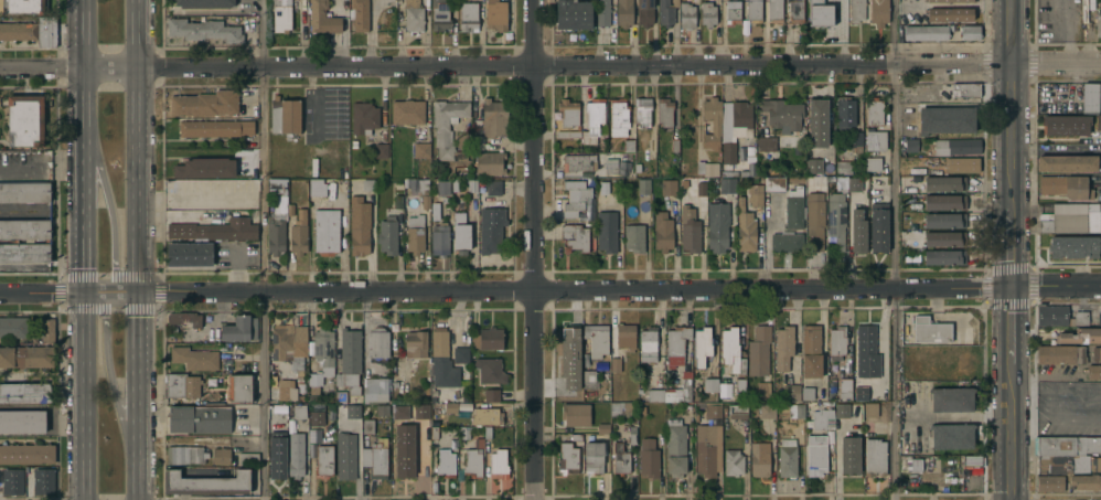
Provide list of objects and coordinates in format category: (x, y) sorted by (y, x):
building: (951, 0)
building: (204, 2)
building: (814, 2)
building: (23, 6)
building: (753, 10)
building: (774, 10)
building: (795, 10)
building: (856, 10)
building: (733, 11)
building: (878, 11)
building: (602, 12)
building: (624, 12)
building: (645, 12)
building: (665, 12)
building: (707, 12)
building: (950, 13)
building: (281, 14)
building: (360, 14)
building: (414, 14)
building: (440, 14)
building: (496, 14)
building: (573, 14)
building: (686, 14)
building: (469, 15)
building: (819, 15)
building: (322, 18)
building: (1098, 22)
building: (203, 29)
building: (31, 30)
building: (922, 31)
building: (970, 31)
road: (1056, 62)
road: (505, 65)
building: (965, 89)
building: (1089, 97)
building: (205, 103)
building: (24, 106)
building: (407, 110)
building: (642, 110)
building: (664, 110)
building: (874, 110)
building: (568, 111)
building: (782, 111)
building: (845, 113)
building: (285, 115)
building: (495, 116)
building: (618, 116)
building: (364, 117)
building: (945, 118)
building: (592, 121)
building: (713, 121)
building: (816, 123)
building: (1097, 123)
building: (448, 126)
building: (734, 126)
building: (215, 127)
building: (1062, 128)
building: (25, 130)
building: (567, 132)
building: (876, 139)
building: (858, 141)
building: (767, 142)
building: (629, 143)
building: (675, 143)
building: (911, 145)
building: (955, 146)
building: (381, 149)
building: (421, 149)
building: (750, 149)
building: (490, 161)
building: (578, 161)
building: (1067, 161)
building: (873, 162)
building: (962, 163)
building: (614, 164)
building: (749, 166)
building: (843, 166)
building: (205, 167)
building: (706, 167)
building: (813, 167)
building: (755, 179)
building: (406, 181)
building: (684, 182)
building: (840, 182)
building: (944, 182)
building: (368, 183)
building: (471, 183)
building: (774, 183)
building: (727, 184)
road: (105, 185)
building: (442, 185)
building: (643, 185)
building: (854, 185)
building: (1066, 185)
building: (493, 187)
building: (669, 187)
building: (276, 188)
building: (317, 188)
building: (455, 188)
building: (702, 188)
building: (24, 190)
building: (425, 193)
building: (755, 193)
building: (574, 199)
building: (398, 201)
building: (944, 201)
building: (289, 208)
building: (794, 208)
building: (23, 211)
building: (459, 216)
building: (815, 219)
building: (836, 219)
building: (944, 219)
building: (1069, 219)
building: (359, 224)
building: (717, 225)
building: (607, 226)
building: (879, 226)
building: (24, 227)
building: (240, 227)
building: (746, 227)
building: (492, 228)
building: (690, 228)
building: (325, 230)
building: (663, 230)
building: (186, 231)
building: (856, 231)
building: (415, 232)
building: (298, 233)
building: (276, 234)
building: (387, 234)
building: (461, 236)
building: (575, 236)
building: (634, 236)
building: (440, 237)
building: (944, 237)
building: (1078, 238)
building: (787, 241)
building: (1055, 241)
building: (1091, 247)
road: (84, 249)
road: (141, 249)
road: (266, 249)
road: (534, 249)
road: (896, 249)
road: (1011, 249)
building: (24, 252)
building: (189, 253)
building: (1060, 255)
building: (944, 256)
road: (1055, 288)
road: (504, 289)
traffic signals: (84, 294)
traffic signals: (142, 294)
building: (1051, 313)
building: (1081, 317)
building: (1099, 317)
building: (186, 323)
building: (13, 326)
building: (239, 327)
building: (47, 329)
building: (931, 329)
building: (626, 334)
building: (1079, 334)
building: (488, 338)
building: (597, 338)
building: (837, 341)
building: (377, 343)
building: (416, 343)
building: (648, 343)
building: (677, 343)
building: (289, 344)
building: (702, 344)
building: (323, 345)
building: (783, 345)
building: (730, 347)
building: (759, 350)
building: (811, 350)
building: (569, 351)
building: (866, 352)
building: (1095, 352)
building: (461, 353)
building: (1060, 353)
building: (25, 355)
building: (194, 357)
building: (350, 359)
building: (442, 359)
building: (614, 363)
building: (490, 369)
building: (1093, 371)
building: (589, 377)
building: (314, 381)
building: (395, 383)
building: (740, 383)
building: (181, 384)
building: (710, 384)
building: (239, 386)
building: (845, 386)
building: (284, 389)
building: (374, 389)
building: (686, 389)
building: (761, 390)
building: (24, 391)
building: (723, 391)
building: (791, 391)
road: (115, 392)
building: (806, 392)
building: (492, 394)
building: (567, 394)
building: (654, 394)
building: (341, 396)
building: (312, 397)
building: (951, 397)
building: (317, 406)
building: (451, 406)
building: (688, 406)
building: (622, 407)
building: (640, 407)
building: (870, 408)
building: (353, 409)
building: (738, 409)
building: (768, 409)
building: (797, 409)
building: (299, 411)
building: (421, 411)
building: (713, 411)
building: (841, 411)
building: (576, 413)
building: (487, 415)
building: (200, 417)
building: (317, 417)
building: (823, 417)
building: (22, 421)
building: (367, 425)
building: (602, 426)
building: (435, 432)
building: (463, 432)
building: (488, 433)
building: (632, 434)
building: (952, 435)
building: (576, 436)
building: (1067, 445)
building: (708, 448)
building: (676, 450)
building: (26, 453)
building: (185, 454)
building: (221, 454)
building: (277, 454)
building: (296, 454)
building: (345, 455)
building: (816, 455)
building: (849, 455)
building: (568, 456)
building: (592, 456)
building: (875, 456)
building: (248, 457)
building: (376, 457)
building: (649, 457)
building: (788, 457)
building: (620, 458)
building: (759, 458)
building: (324, 459)
building: (410, 460)
building: (972, 460)
building: (473, 461)
building: (734, 461)
building: (446, 462)
building: (498, 462)
building: (909, 462)
building: (1062, 464)
building: (1095, 464)
building: (12, 480)
building: (43, 480)
building: (1086, 480)
building: (206, 482)
building: (1050, 482)

